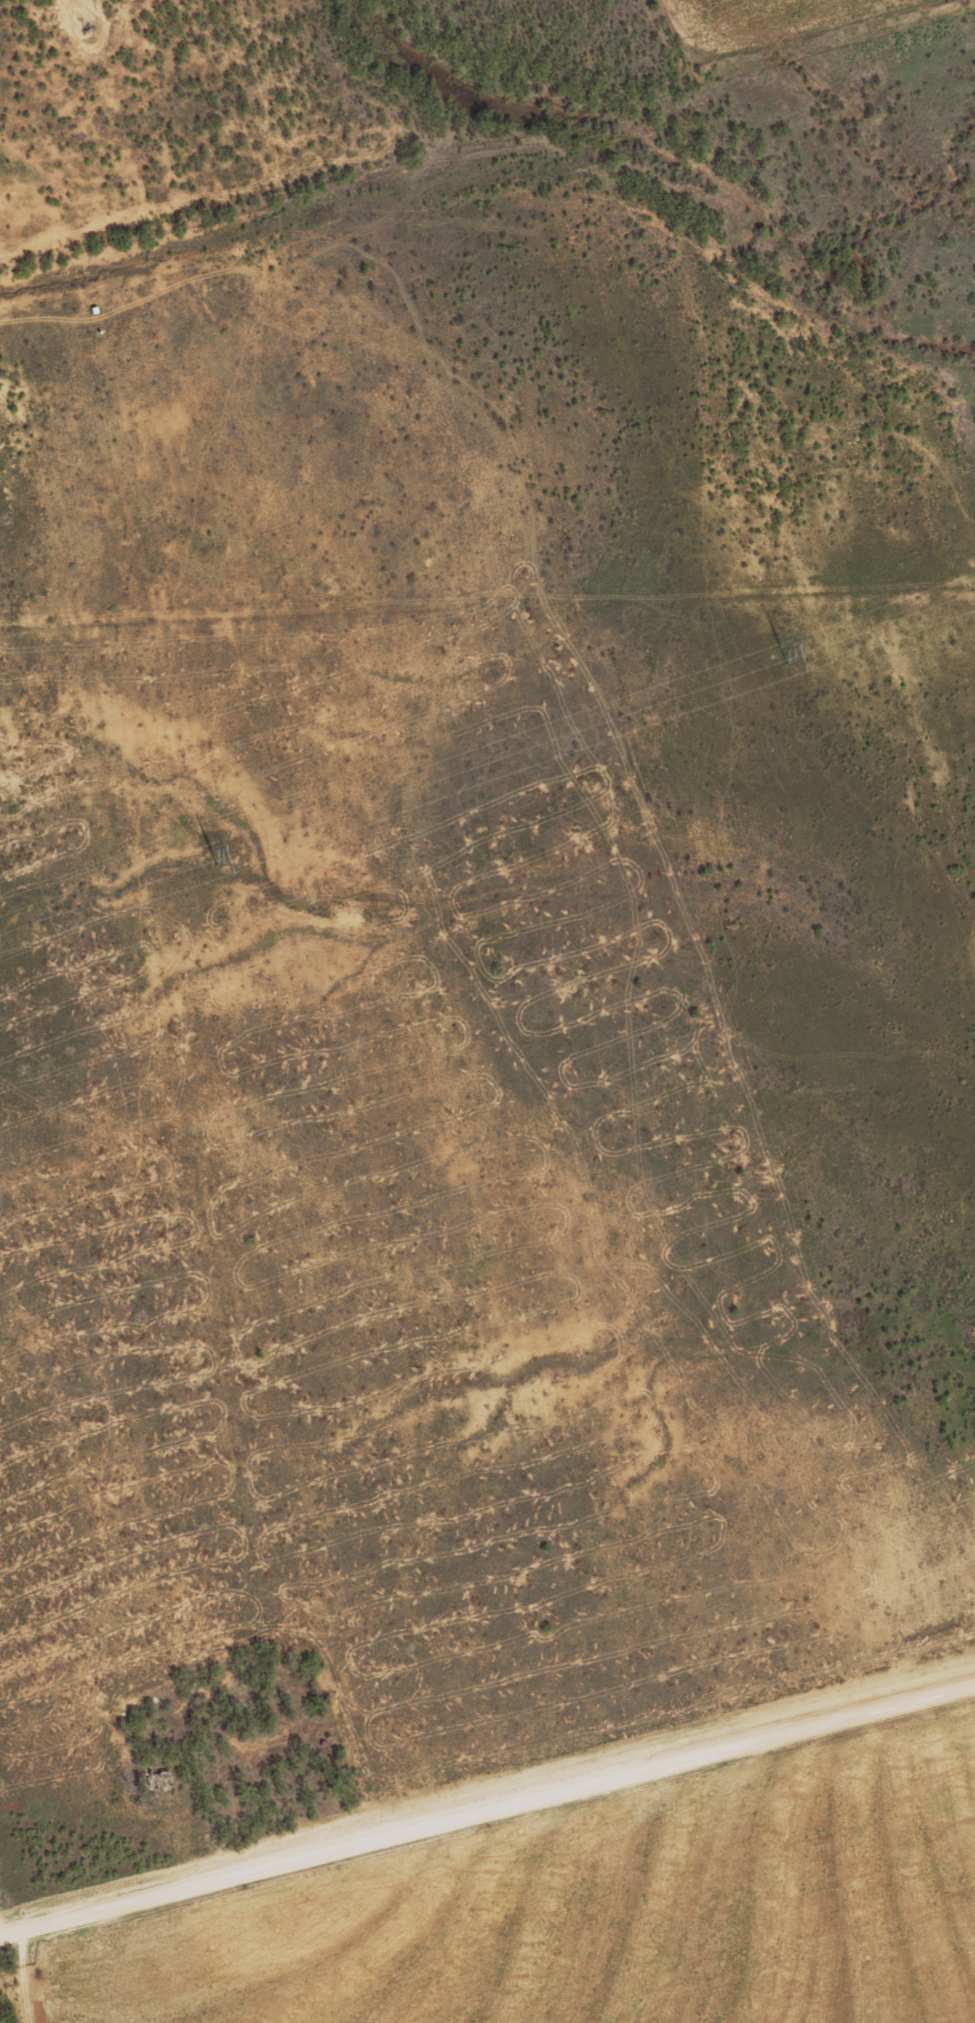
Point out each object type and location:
power tower: (784, 656)
power tower: (215, 856)
road: (487, 1838)

